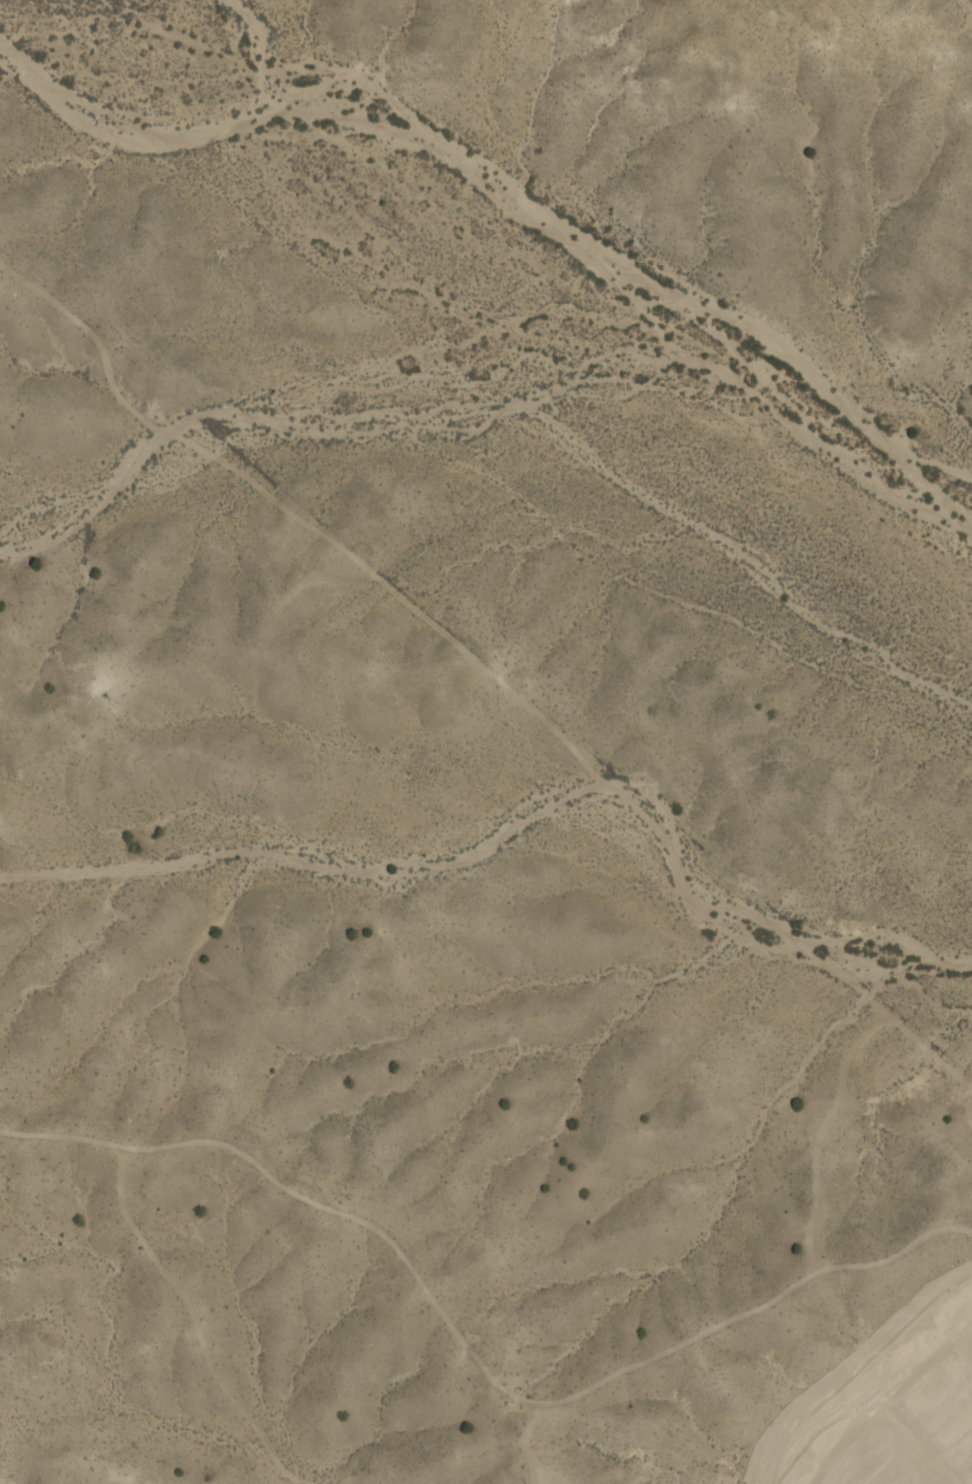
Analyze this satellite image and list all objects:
road: (877, 1392)
road: (907, 1443)

